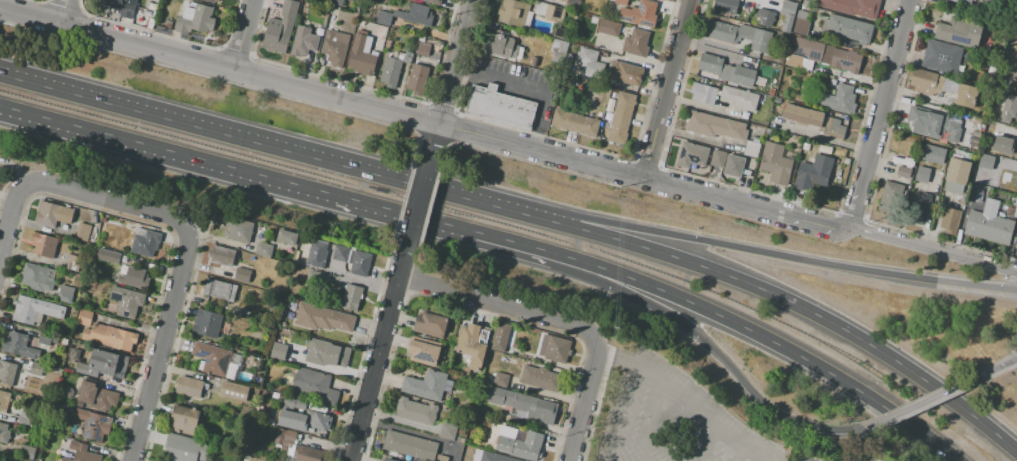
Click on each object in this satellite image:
road: (767, 0)
building: (211, 1)
building: (354, 1)
building: (335, 2)
building: (620, 2)
building: (962, 2)
building: (572, 5)
building: (121, 6)
building: (725, 6)
building: (852, 7)
building: (542, 10)
road: (61, 12)
building: (512, 12)
building: (406, 14)
building: (639, 14)
building: (787, 14)
building: (764, 17)
building: (195, 20)
building: (801, 22)
building: (609, 27)
building: (280, 28)
building: (848, 29)
building: (380, 32)
building: (960, 32)
road: (241, 35)
building: (740, 35)
building: (302, 41)
building: (636, 42)
road: (718, 44)
building: (335, 47)
building: (422, 48)
building: (503, 48)
building: (558, 51)
building: (1012, 51)
building: (826, 54)
building: (362, 55)
building: (940, 56)
building: (793, 60)
road: (454, 62)
building: (589, 62)
road: (647, 63)
building: (727, 70)
building: (992, 71)
building: (390, 72)
building: (624, 72)
building: (417, 79)
building: (942, 86)
road: (667, 88)
building: (1012, 88)
road: (537, 90)
building: (771, 92)
building: (703, 93)
road: (321, 94)
building: (740, 98)
building: (839, 99)
building: (499, 105)
building: (1007, 108)
road: (880, 114)
building: (802, 116)
building: (620, 118)
building: (977, 121)
building: (574, 123)
building: (935, 125)
building: (715, 126)
building: (833, 126)
road: (245, 135)
road: (821, 137)
road: (431, 138)
road: (698, 138)
building: (756, 140)
building: (1003, 146)
building: (802, 148)
building: (752, 149)
building: (691, 154)
building: (933, 154)
building: (718, 159)
building: (985, 161)
building: (775, 163)
building: (812, 171)
building: (957, 171)
building: (903, 172)
building: (922, 175)
building: (1015, 180)
road: (276, 182)
building: (975, 192)
road: (107, 198)
building: (891, 198)
road: (746, 202)
road: (415, 204)
building: (918, 208)
building: (1015, 212)
building: (52, 214)
road: (9, 216)
building: (949, 221)
building: (989, 225)
building: (238, 230)
building: (83, 232)
building: (284, 236)
building: (145, 242)
building: (44, 245)
building: (263, 248)
road: (933, 249)
road: (752, 250)
building: (1016, 252)
building: (315, 254)
building: (340, 254)
building: (221, 255)
building: (108, 256)
building: (58, 263)
building: (71, 263)
building: (360, 263)
building: (242, 274)
building: (37, 277)
building: (134, 278)
building: (317, 278)
building: (219, 290)
road: (769, 292)
building: (64, 294)
building: (351, 297)
building: (126, 301)
road: (497, 303)
building: (35, 310)
building: (83, 317)
building: (322, 317)
building: (207, 323)
building: (430, 325)
building: (110, 336)
building: (500, 337)
road: (765, 337)
building: (47, 339)
building: (63, 341)
building: (18, 345)
road: (160, 345)
building: (471, 347)
building: (560, 349)
building: (278, 350)
building: (423, 351)
road: (717, 352)
building: (326, 353)
building: (74, 354)
road: (374, 357)
road: (1012, 358)
building: (212, 359)
building: (103, 364)
road: (995, 367)
building: (36, 369)
building: (7, 373)
building: (540, 378)
building: (501, 380)
building: (428, 385)
building: (315, 386)
building: (189, 387)
building: (233, 391)
road: (676, 392)
building: (96, 397)
road: (586, 399)
road: (927, 399)
building: (4, 400)
building: (291, 402)
building: (524, 405)
building: (415, 411)
road: (627, 414)
building: (23, 417)
building: (184, 420)
building: (303, 420)
road: (655, 423)
building: (92, 425)
road: (406, 431)
building: (448, 431)
building: (461, 431)
road: (683, 432)
building: (3, 434)
building: (283, 437)
building: (459, 440)
building: (409, 445)
building: (520, 445)
road: (712, 446)
building: (184, 448)
building: (458, 452)
building: (27, 453)
building: (80, 453)
building: (308, 454)
building: (477, 455)
road: (740, 456)
road: (752, 456)
building: (494, 457)
building: (441, 458)
building: (387, 460)

